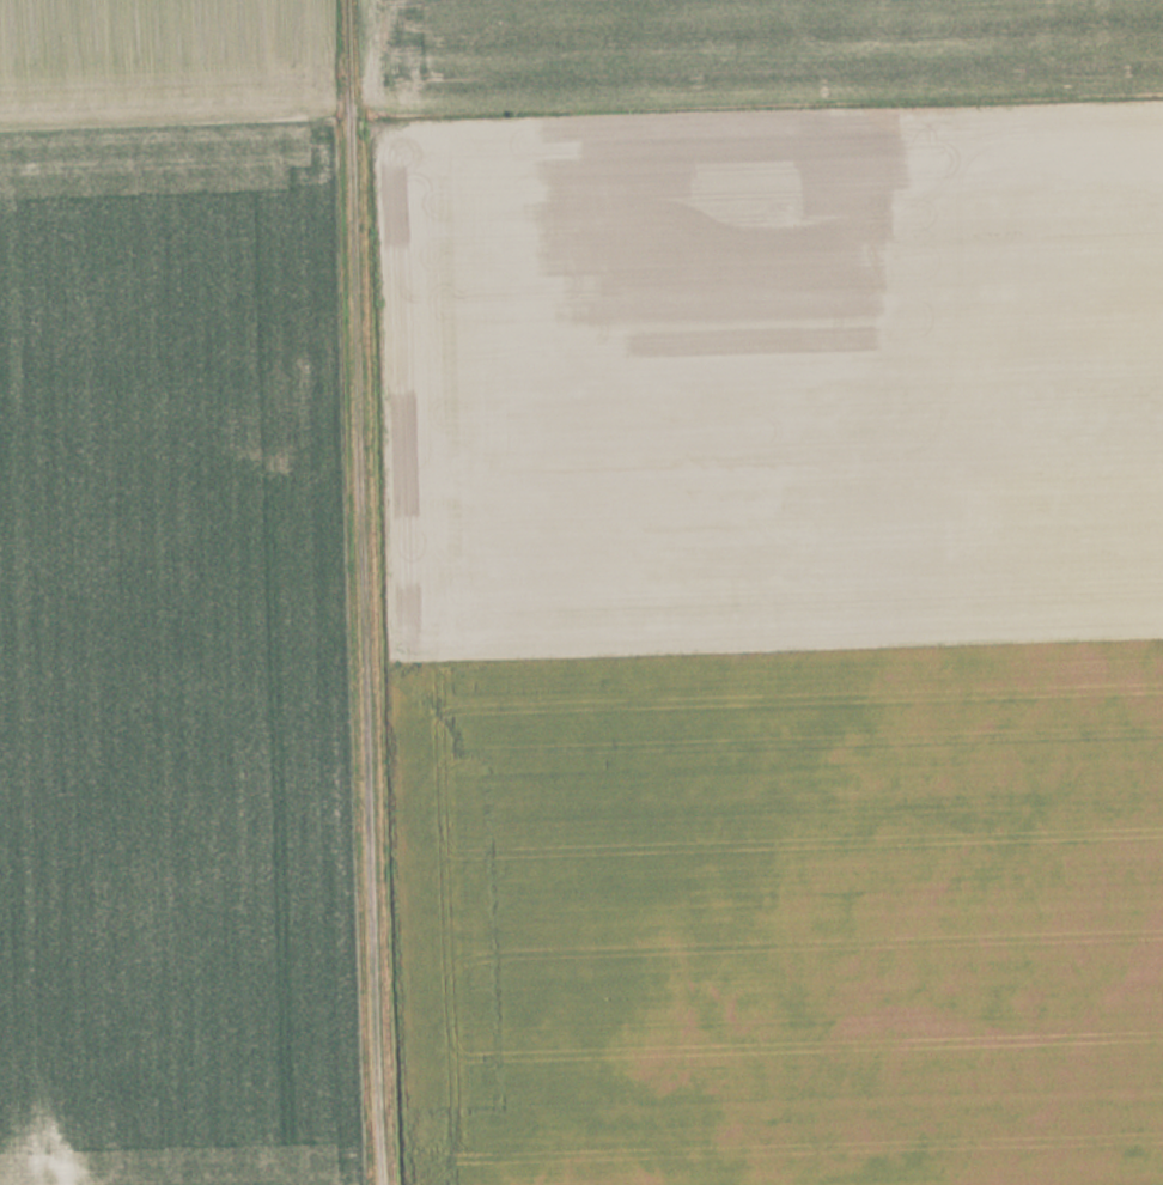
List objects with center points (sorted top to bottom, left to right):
road: (371, 592)

